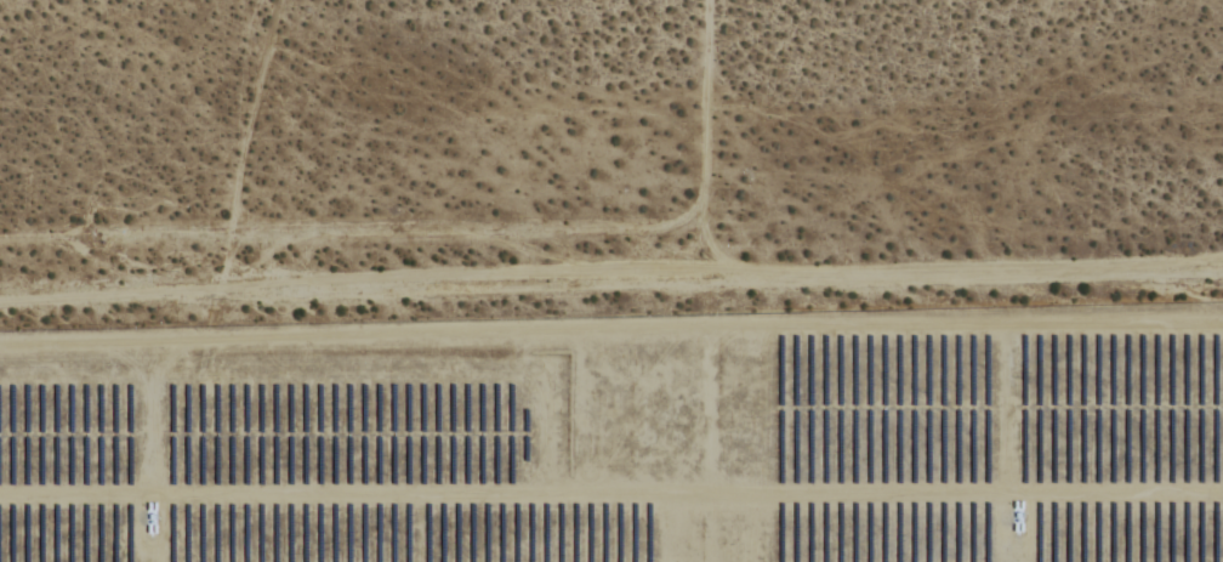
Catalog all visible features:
road: (695, 137)
road: (611, 278)
solar farm: (622, 435)

